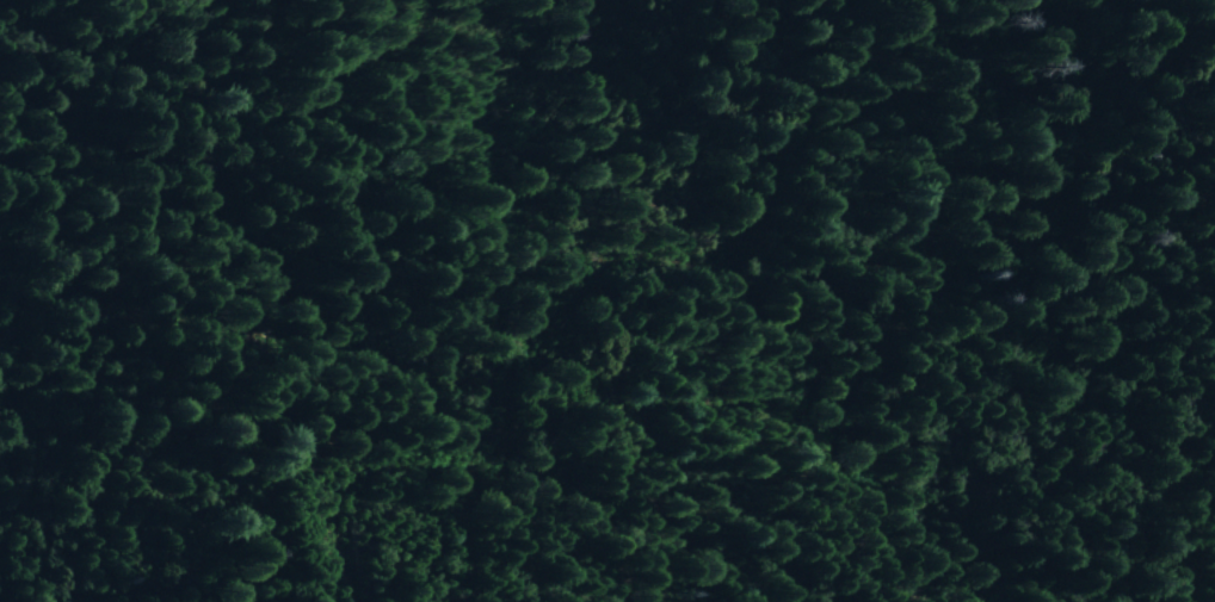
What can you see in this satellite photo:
park: (634, 331)

